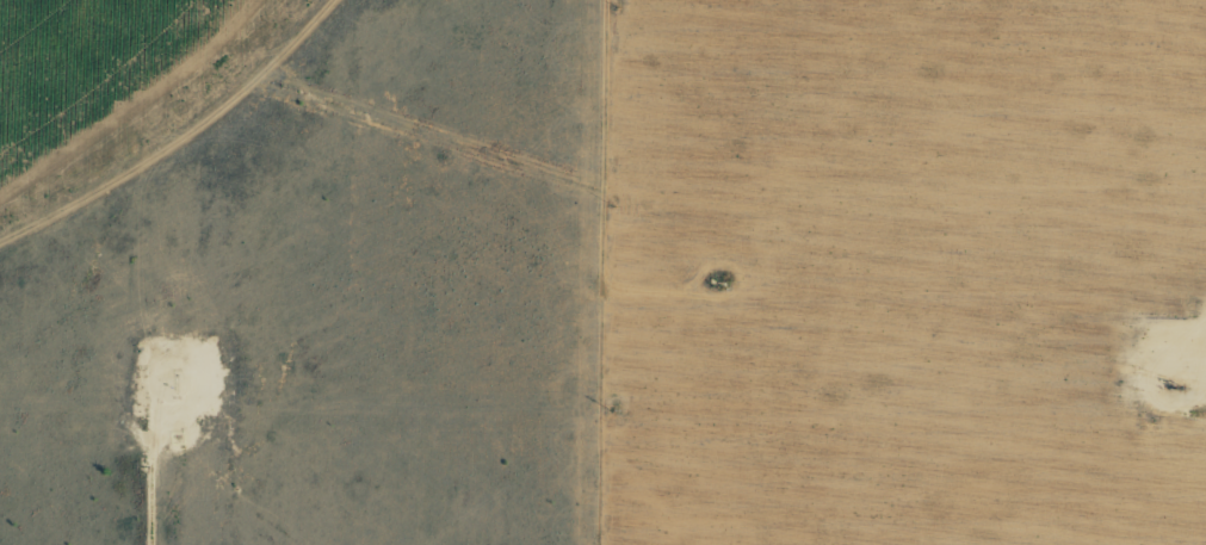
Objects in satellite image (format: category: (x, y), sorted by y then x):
petroleum well: (1176, 392)

